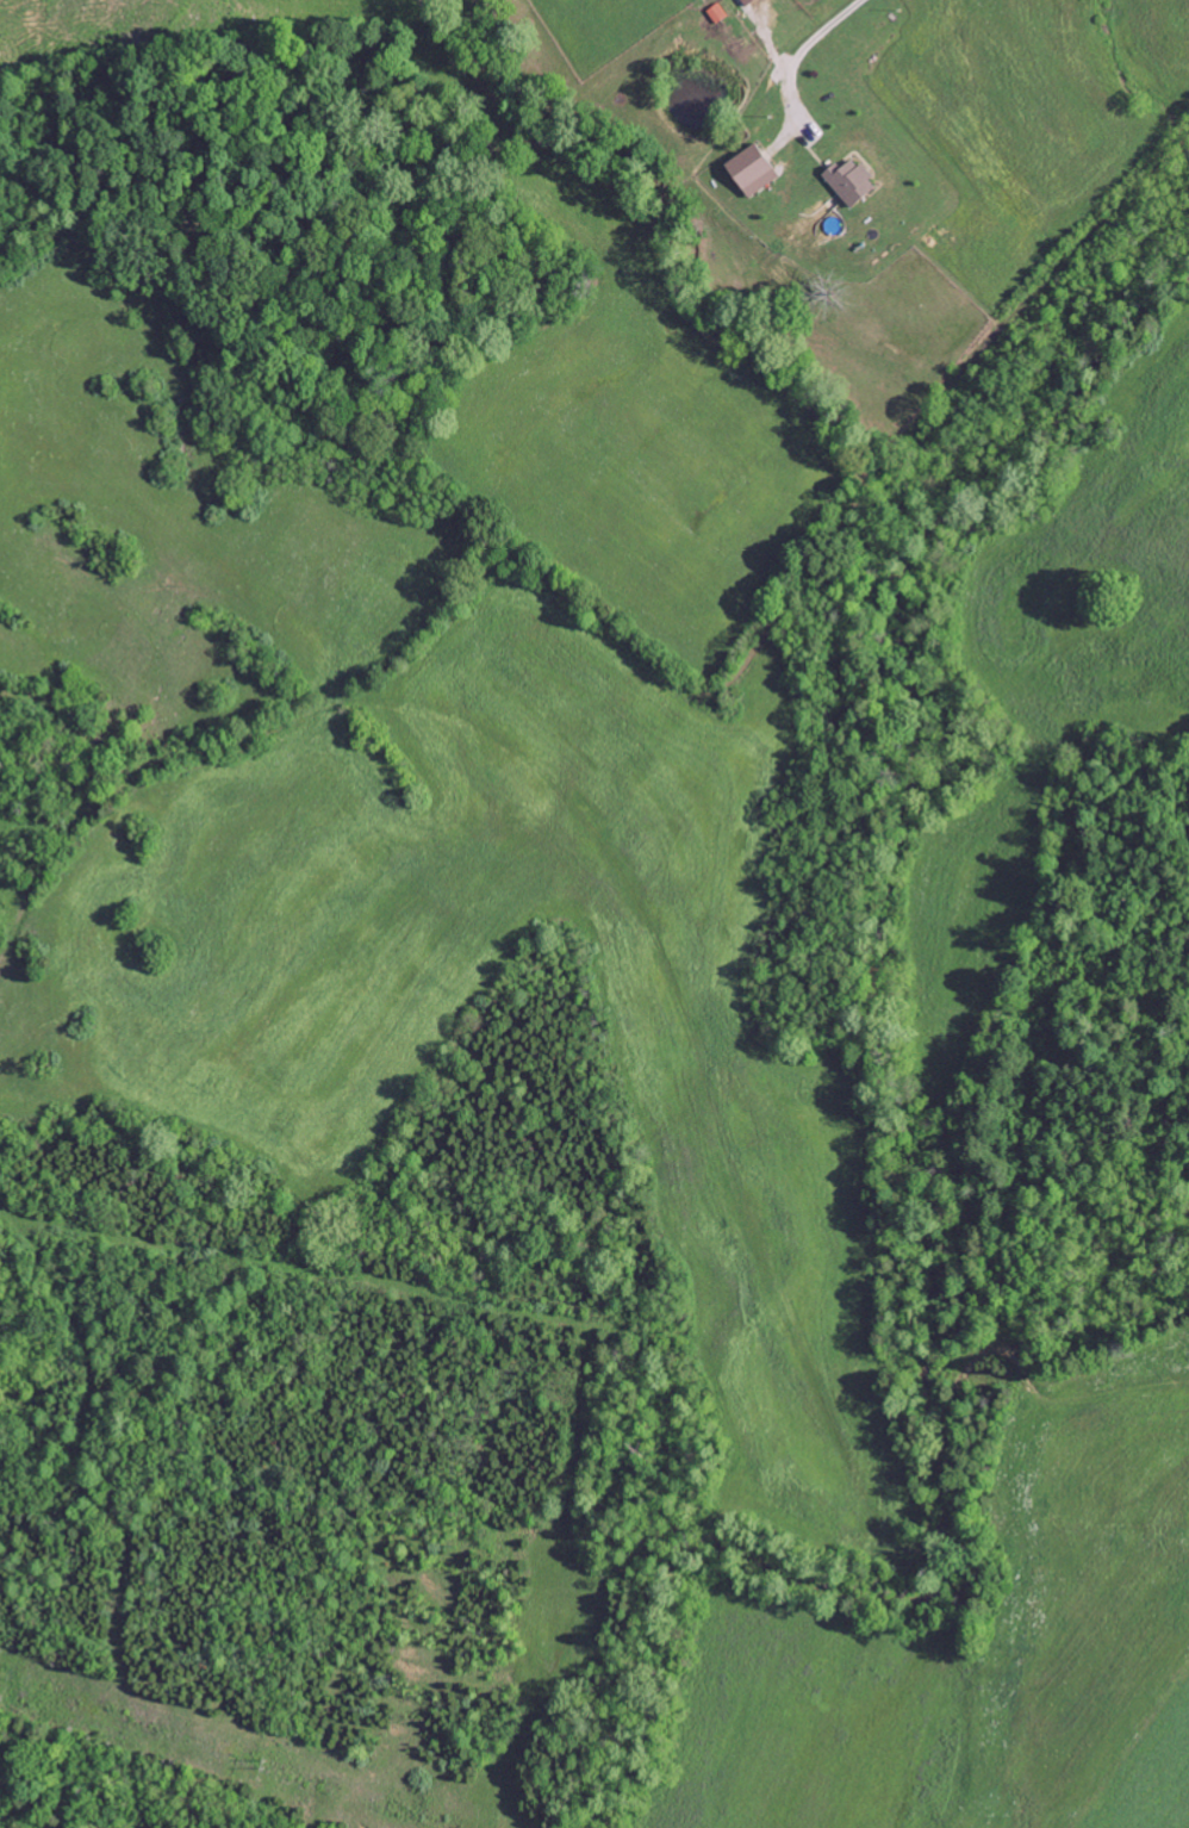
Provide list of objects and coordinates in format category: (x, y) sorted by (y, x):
building: (753, 169)
building: (851, 179)

